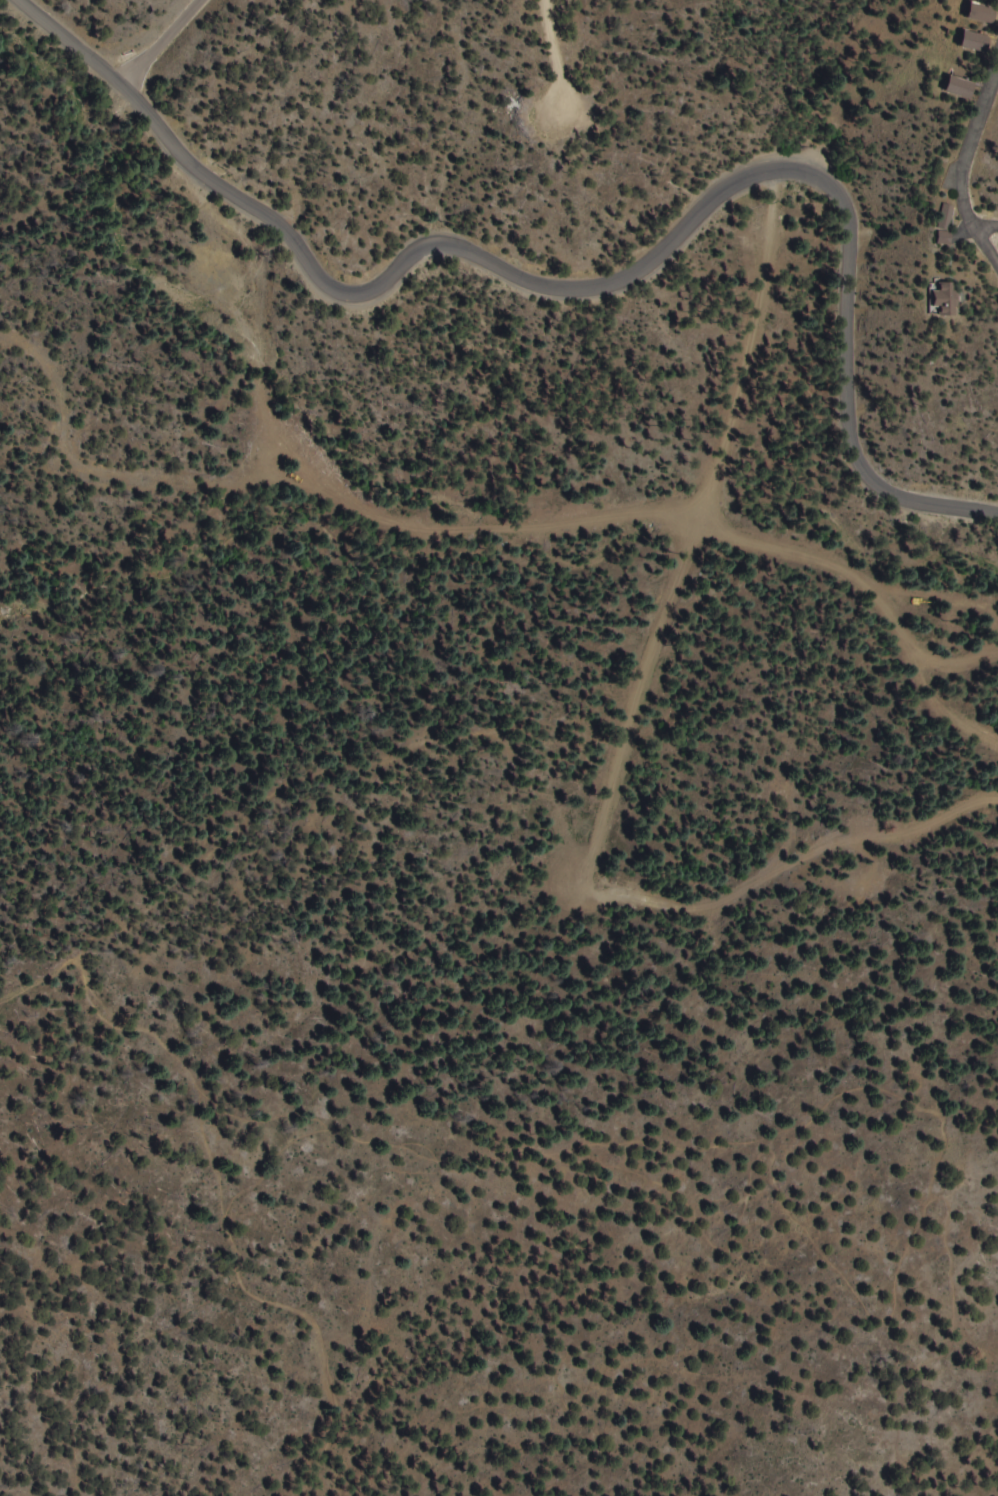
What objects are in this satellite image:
building: (980, 13)
building: (974, 42)
building: (959, 88)
road: (971, 150)
building: (944, 224)
road: (985, 227)
road: (985, 248)
road: (599, 285)
building: (943, 298)
road: (656, 1197)

